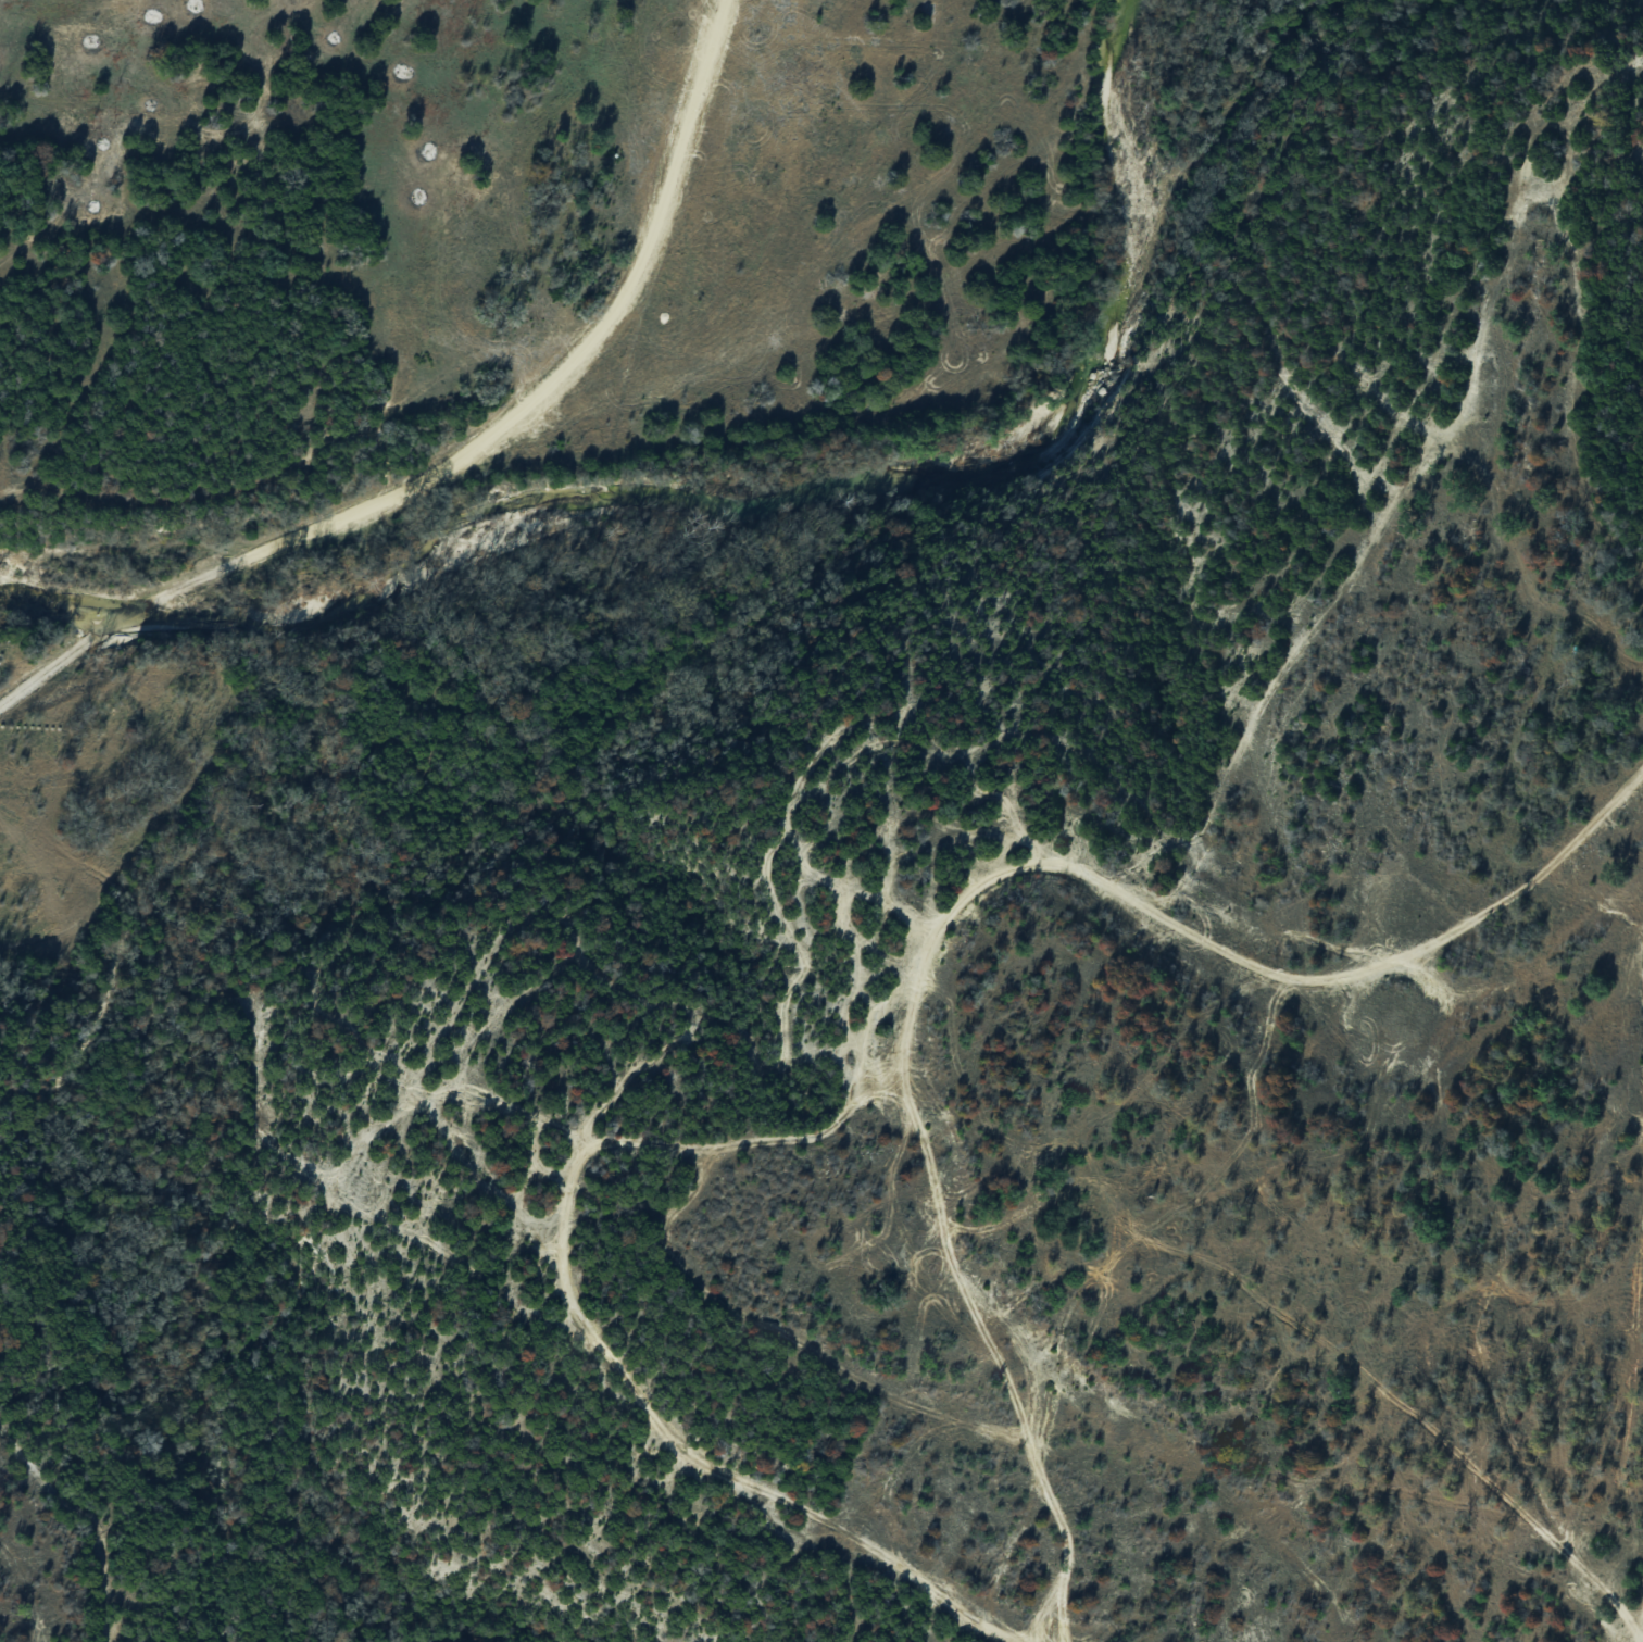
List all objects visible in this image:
road: (462, 442)

